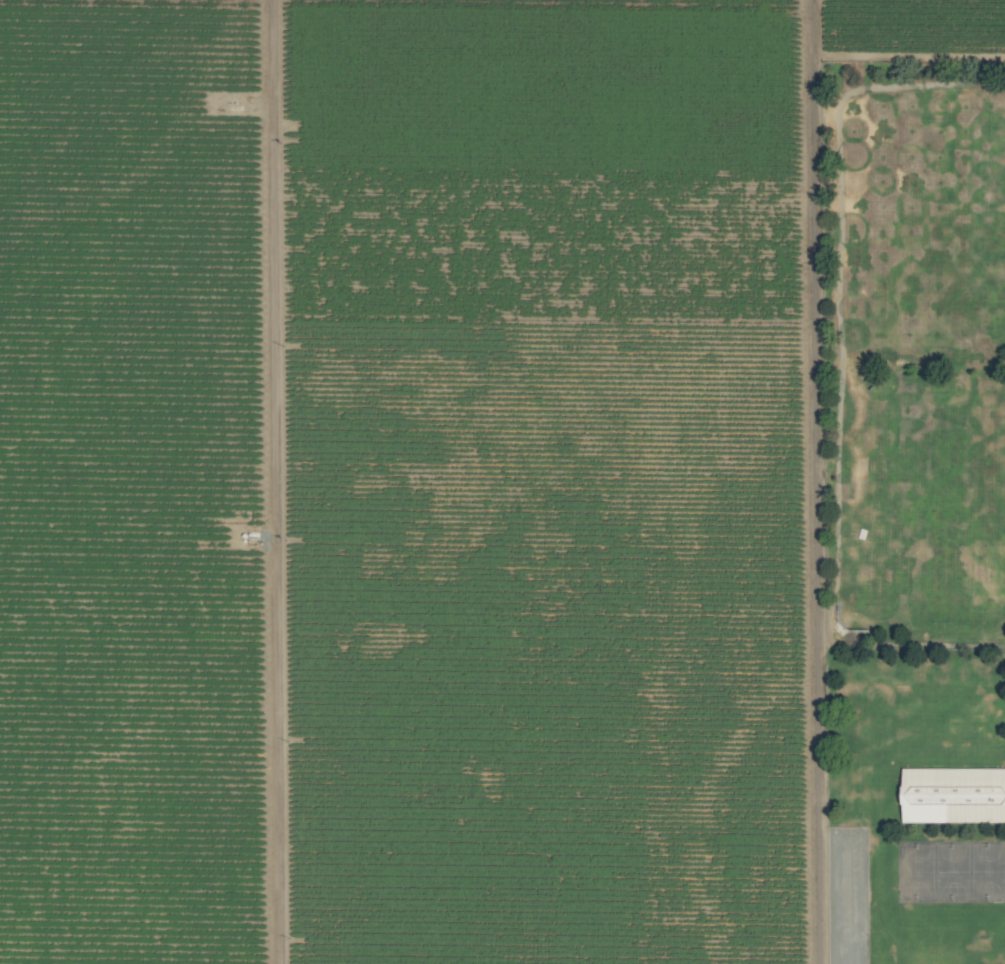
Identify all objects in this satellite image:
crop: (502, 482)
building: (953, 794)

